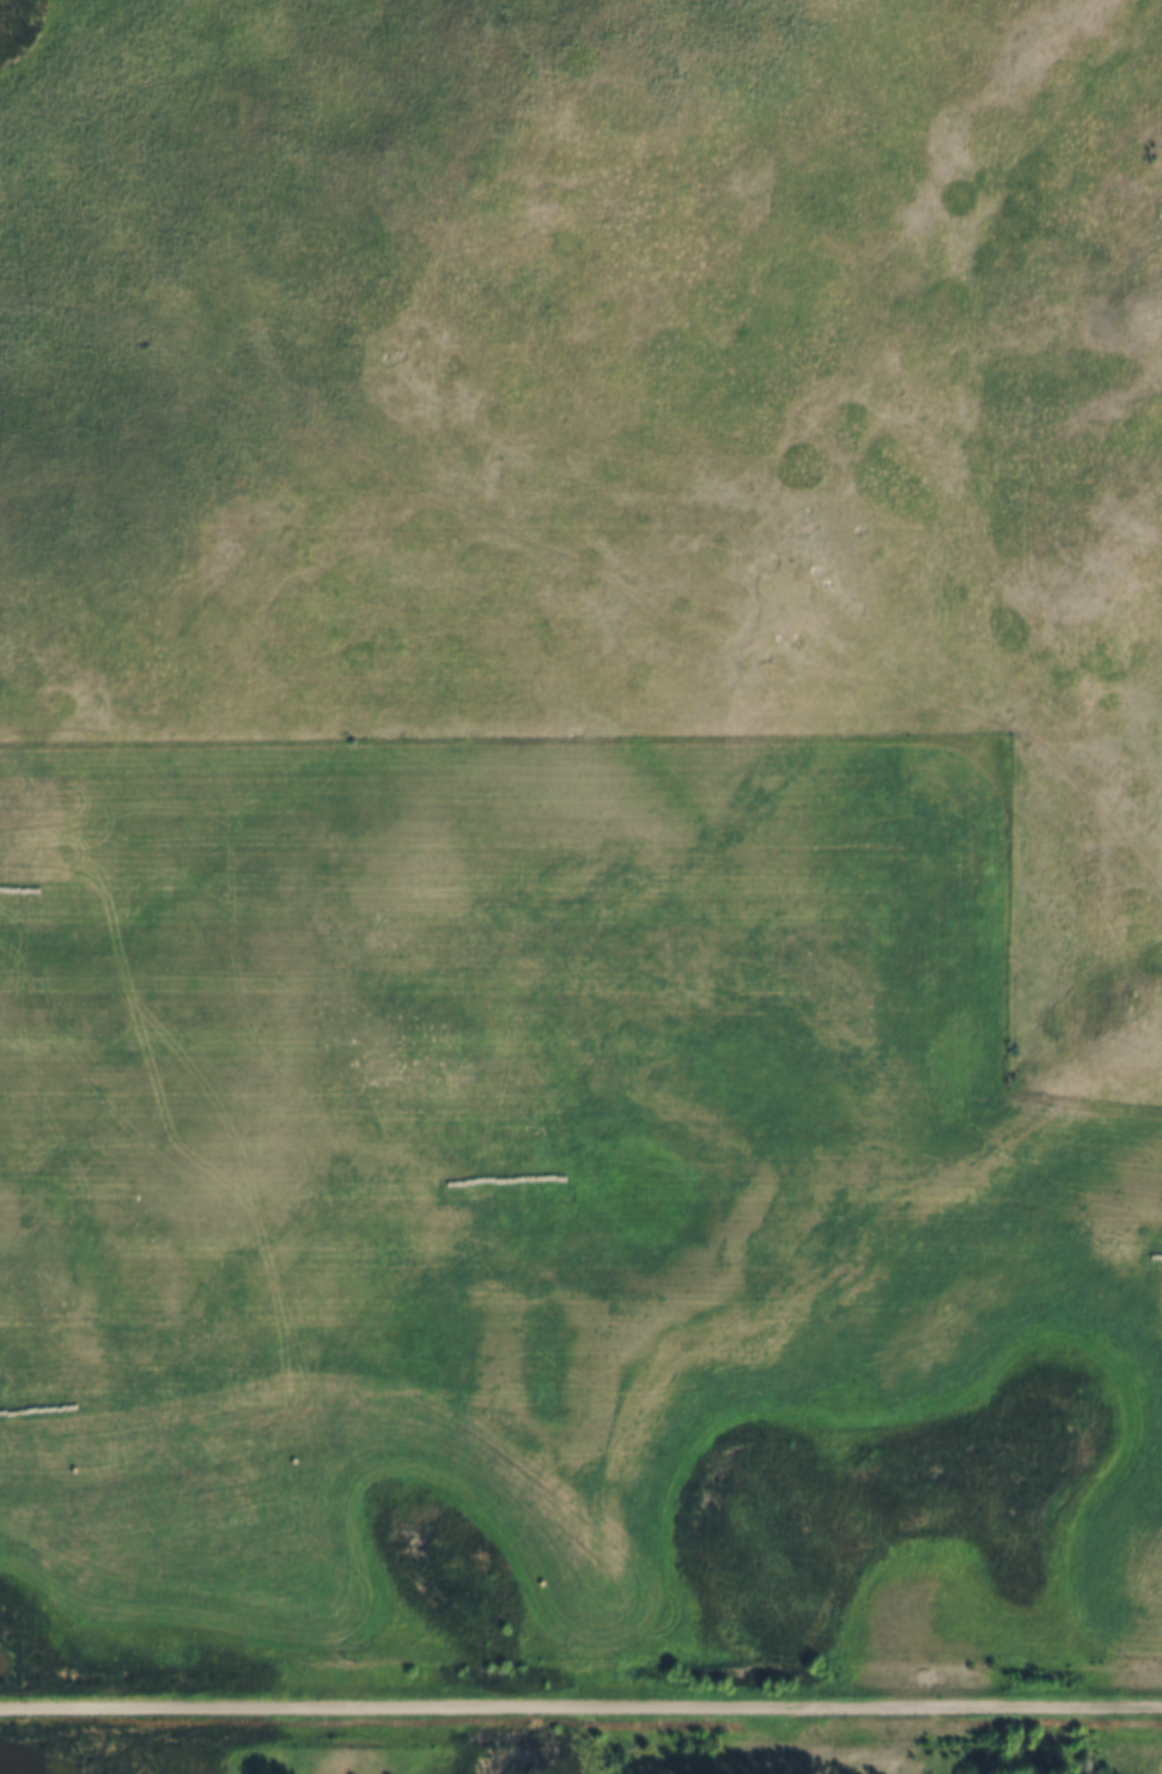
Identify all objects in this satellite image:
road: (580, 1701)

